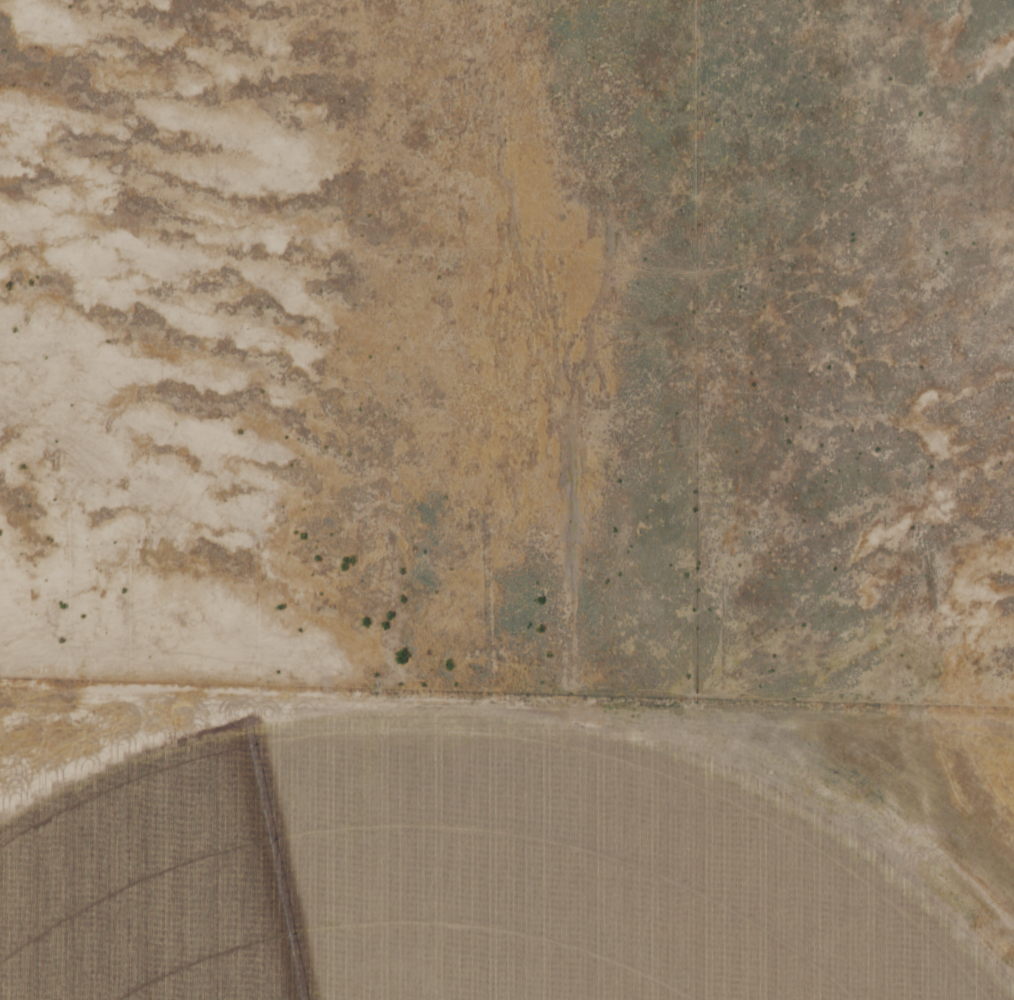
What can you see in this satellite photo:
crop: (450, 876)

